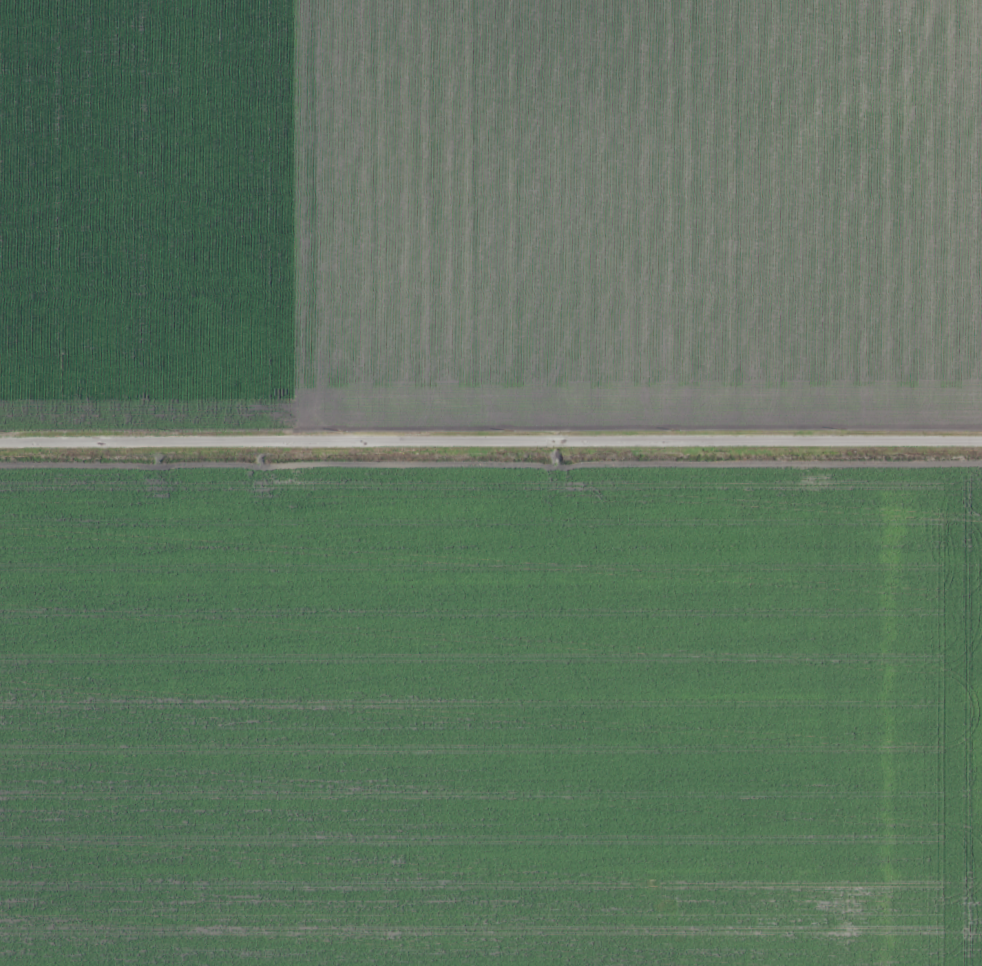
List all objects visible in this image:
road: (491, 446)

